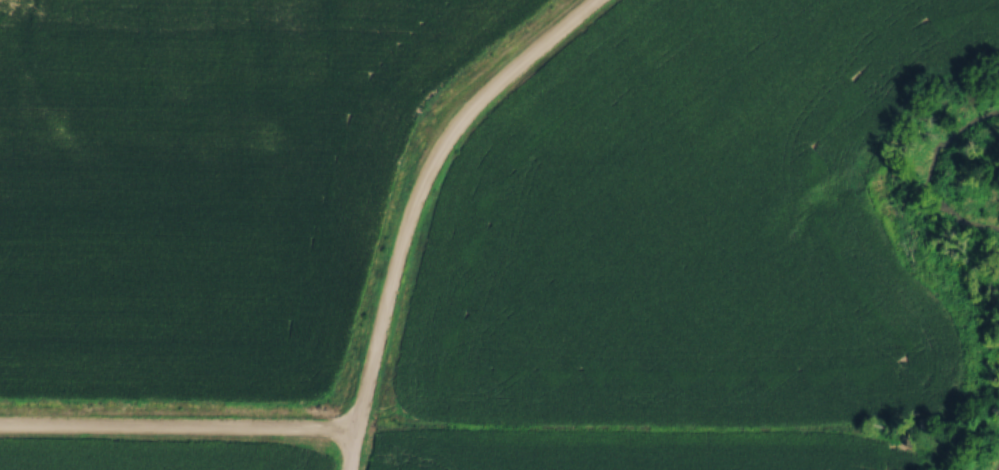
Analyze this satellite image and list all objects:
road: (413, 201)
road: (177, 428)

